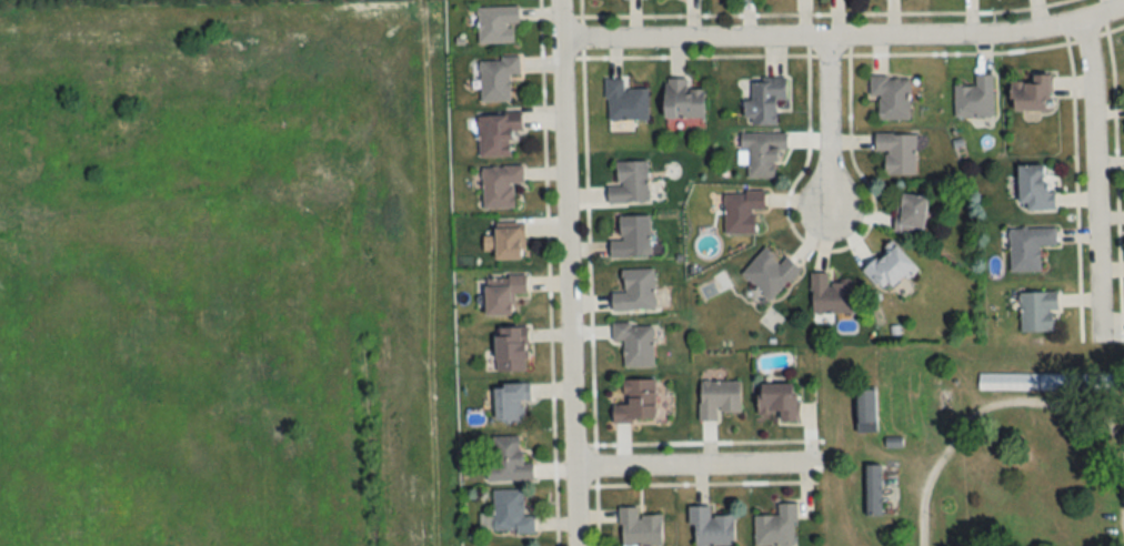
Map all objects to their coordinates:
building: (496, 24)
road: (844, 42)
building: (496, 78)
building: (1031, 94)
building: (891, 97)
building: (975, 99)
building: (682, 101)
building: (764, 101)
building: (625, 102)
road: (830, 130)
building: (496, 135)
building: (897, 153)
building: (763, 156)
building: (630, 183)
road: (1093, 184)
building: (500, 185)
building: (1035, 190)
building: (742, 212)
building: (911, 214)
building: (632, 239)
building: (509, 243)
building: (1030, 247)
building: (890, 270)
road: (565, 273)
building: (770, 274)
building: (635, 292)
building: (502, 295)
building: (830, 295)
building: (1037, 312)
building: (635, 344)
building: (511, 350)
building: (894, 367)
building: (1051, 382)
building: (717, 398)
building: (779, 401)
building: (636, 403)
building: (511, 404)
road: (985, 408)
building: (865, 411)
building: (508, 462)
road: (693, 467)
building: (872, 491)
building: (510, 513)
building: (711, 527)
building: (775, 527)
building: (639, 528)

